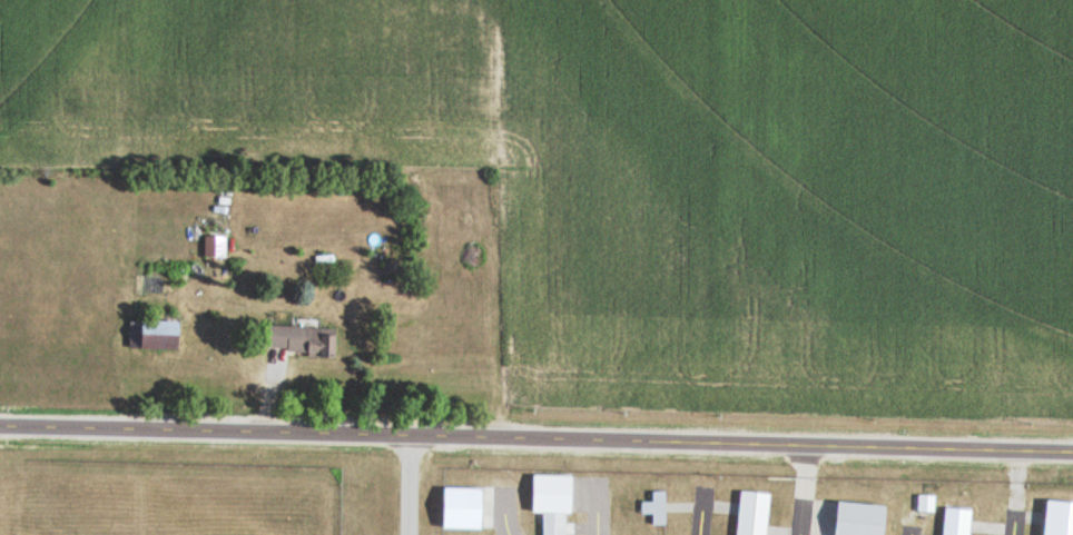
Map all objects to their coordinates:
building: (213, 249)
building: (155, 337)
building: (297, 341)
road: (536, 437)
road: (408, 485)
airport hangar: (550, 499)
building: (550, 499)
airport: (501, 502)
airport hangar: (653, 504)
building: (653, 504)
airport hangar: (461, 508)
building: (461, 508)
airport taxiway: (595, 508)
airport taxiway: (703, 512)
airport hangar: (750, 513)
building: (750, 513)
airport taxiway: (505, 515)
airport taxiway: (803, 517)
airport hangar: (1054, 517)
building: (1054, 517)
airport hangar: (858, 518)
building: (858, 518)
airport hangar: (954, 522)
building: (954, 522)
airport taxiway: (1014, 529)
airport taxiway: (910, 532)

